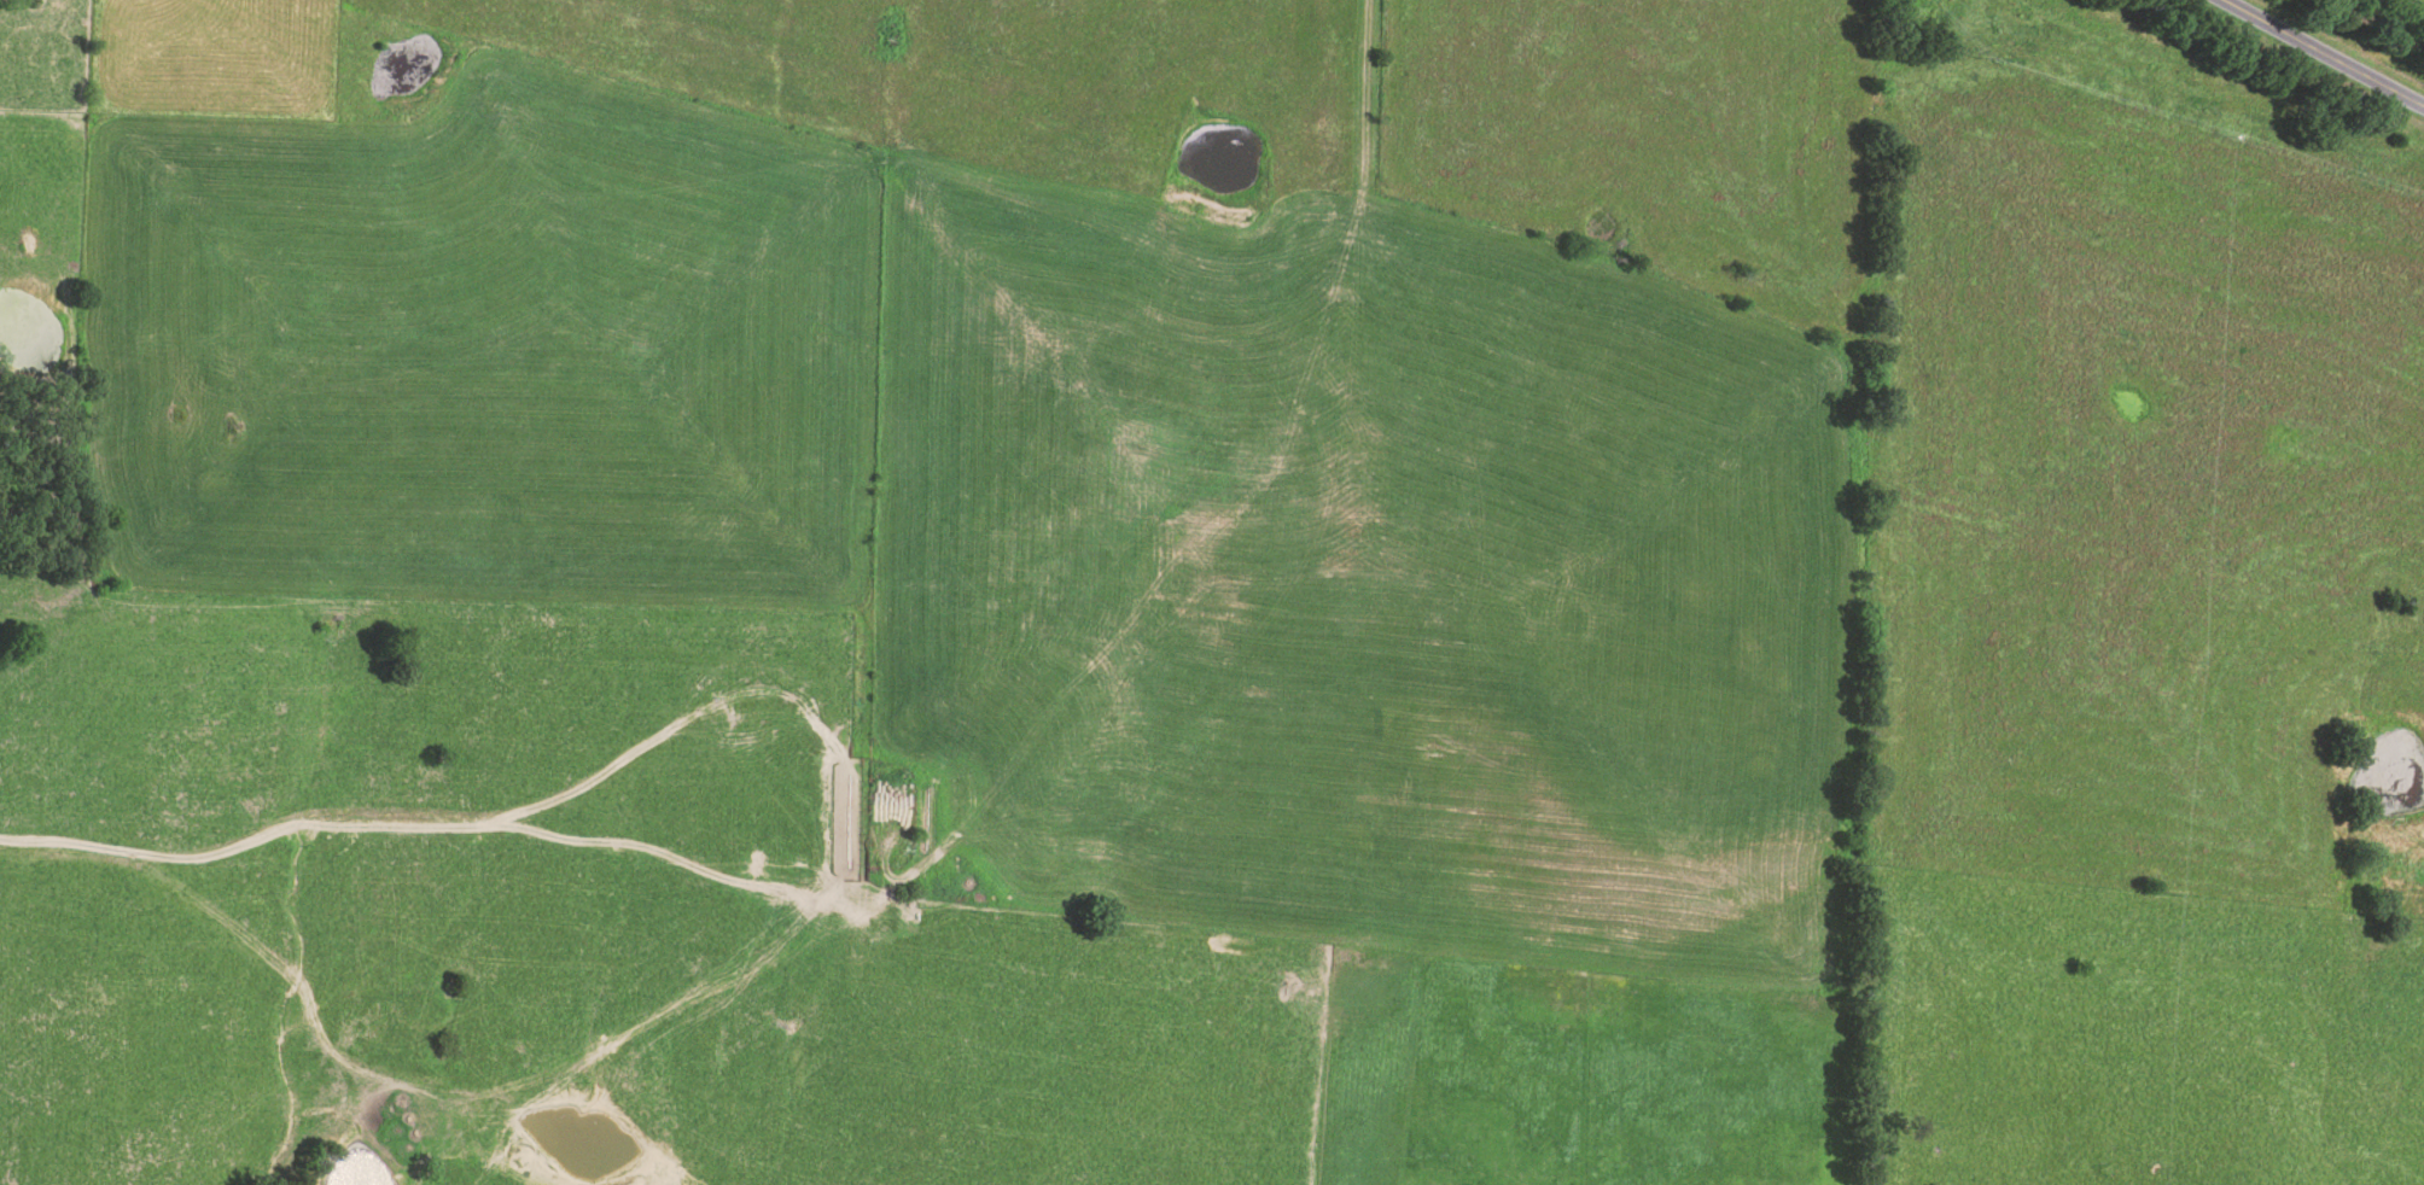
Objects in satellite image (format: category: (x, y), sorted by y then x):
road: (2321, 52)

